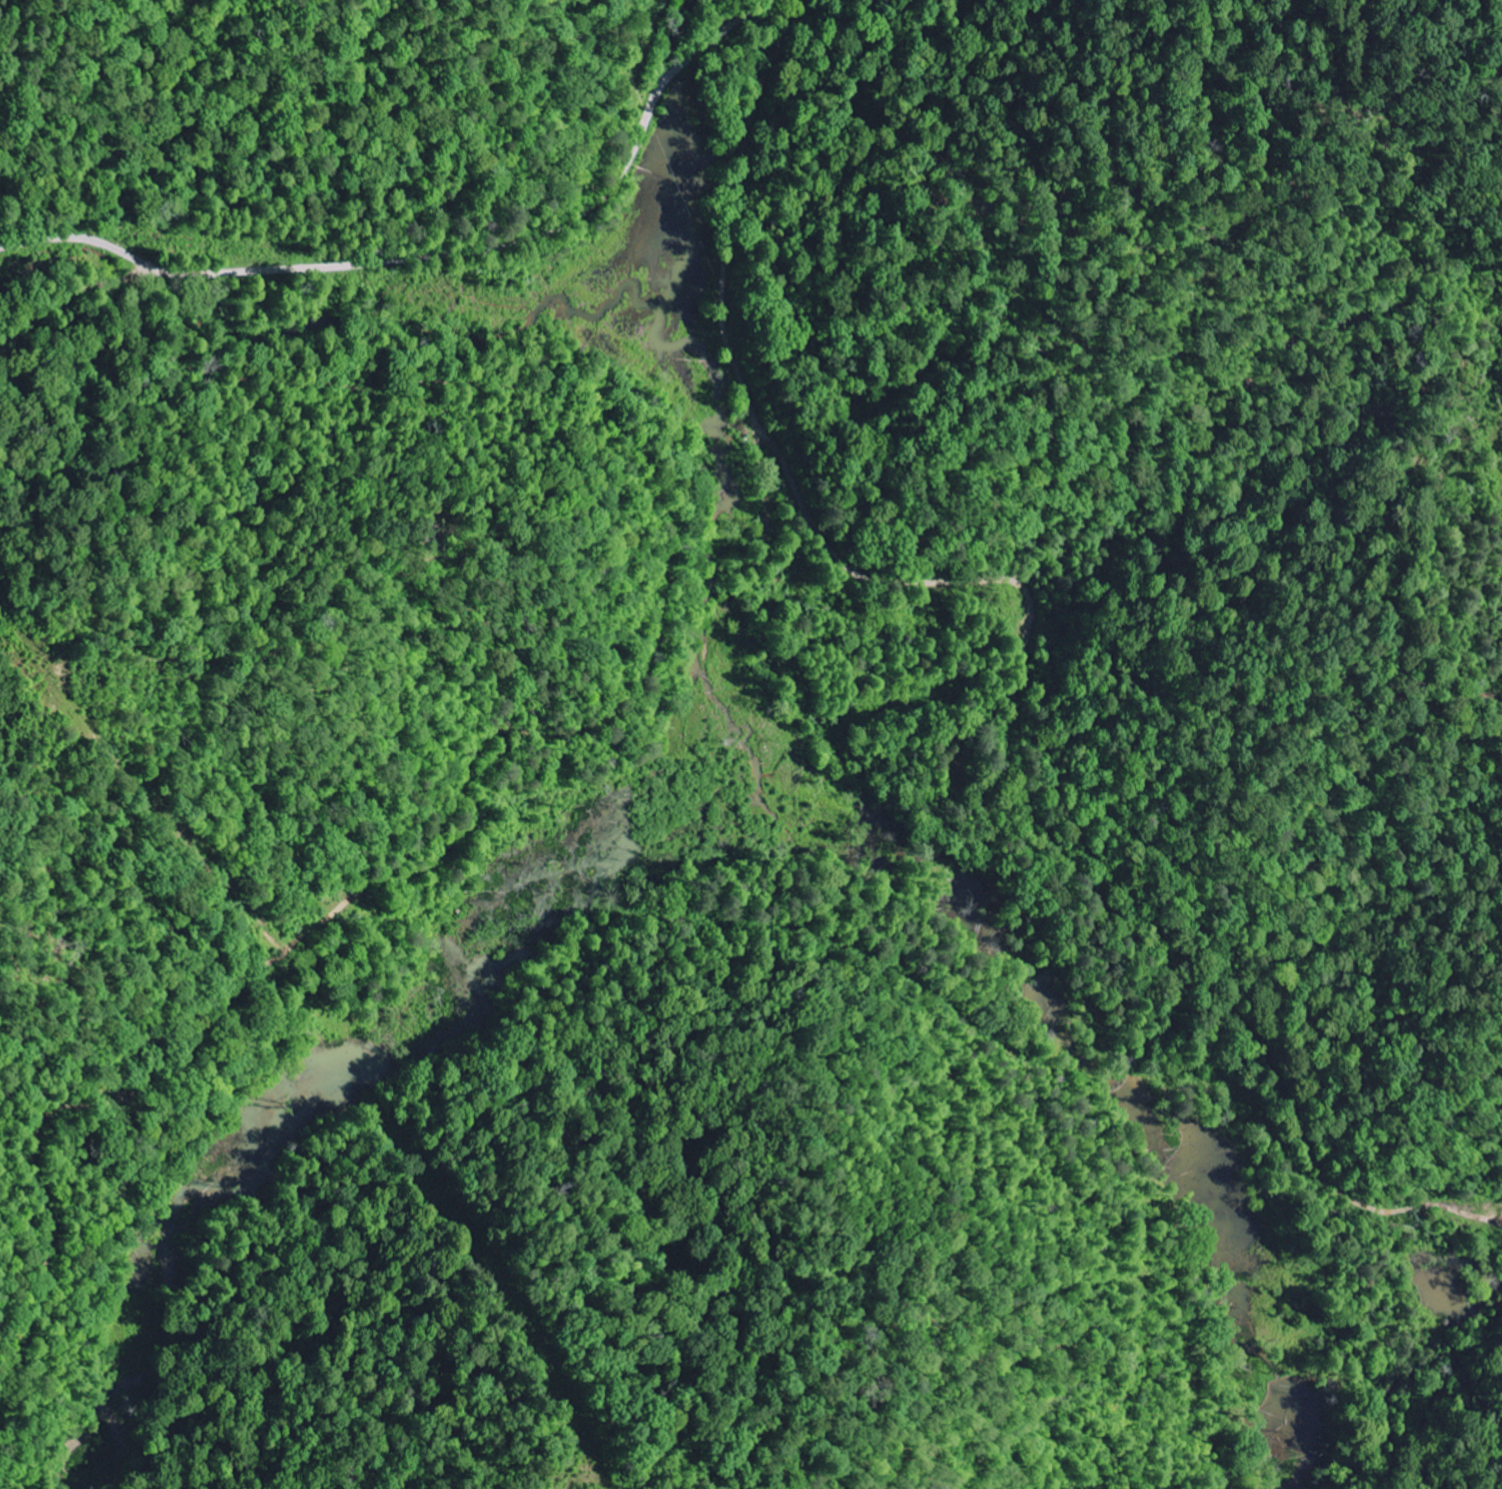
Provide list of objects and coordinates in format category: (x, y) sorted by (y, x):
road: (31, 240)
road: (471, 251)
road: (173, 1373)

